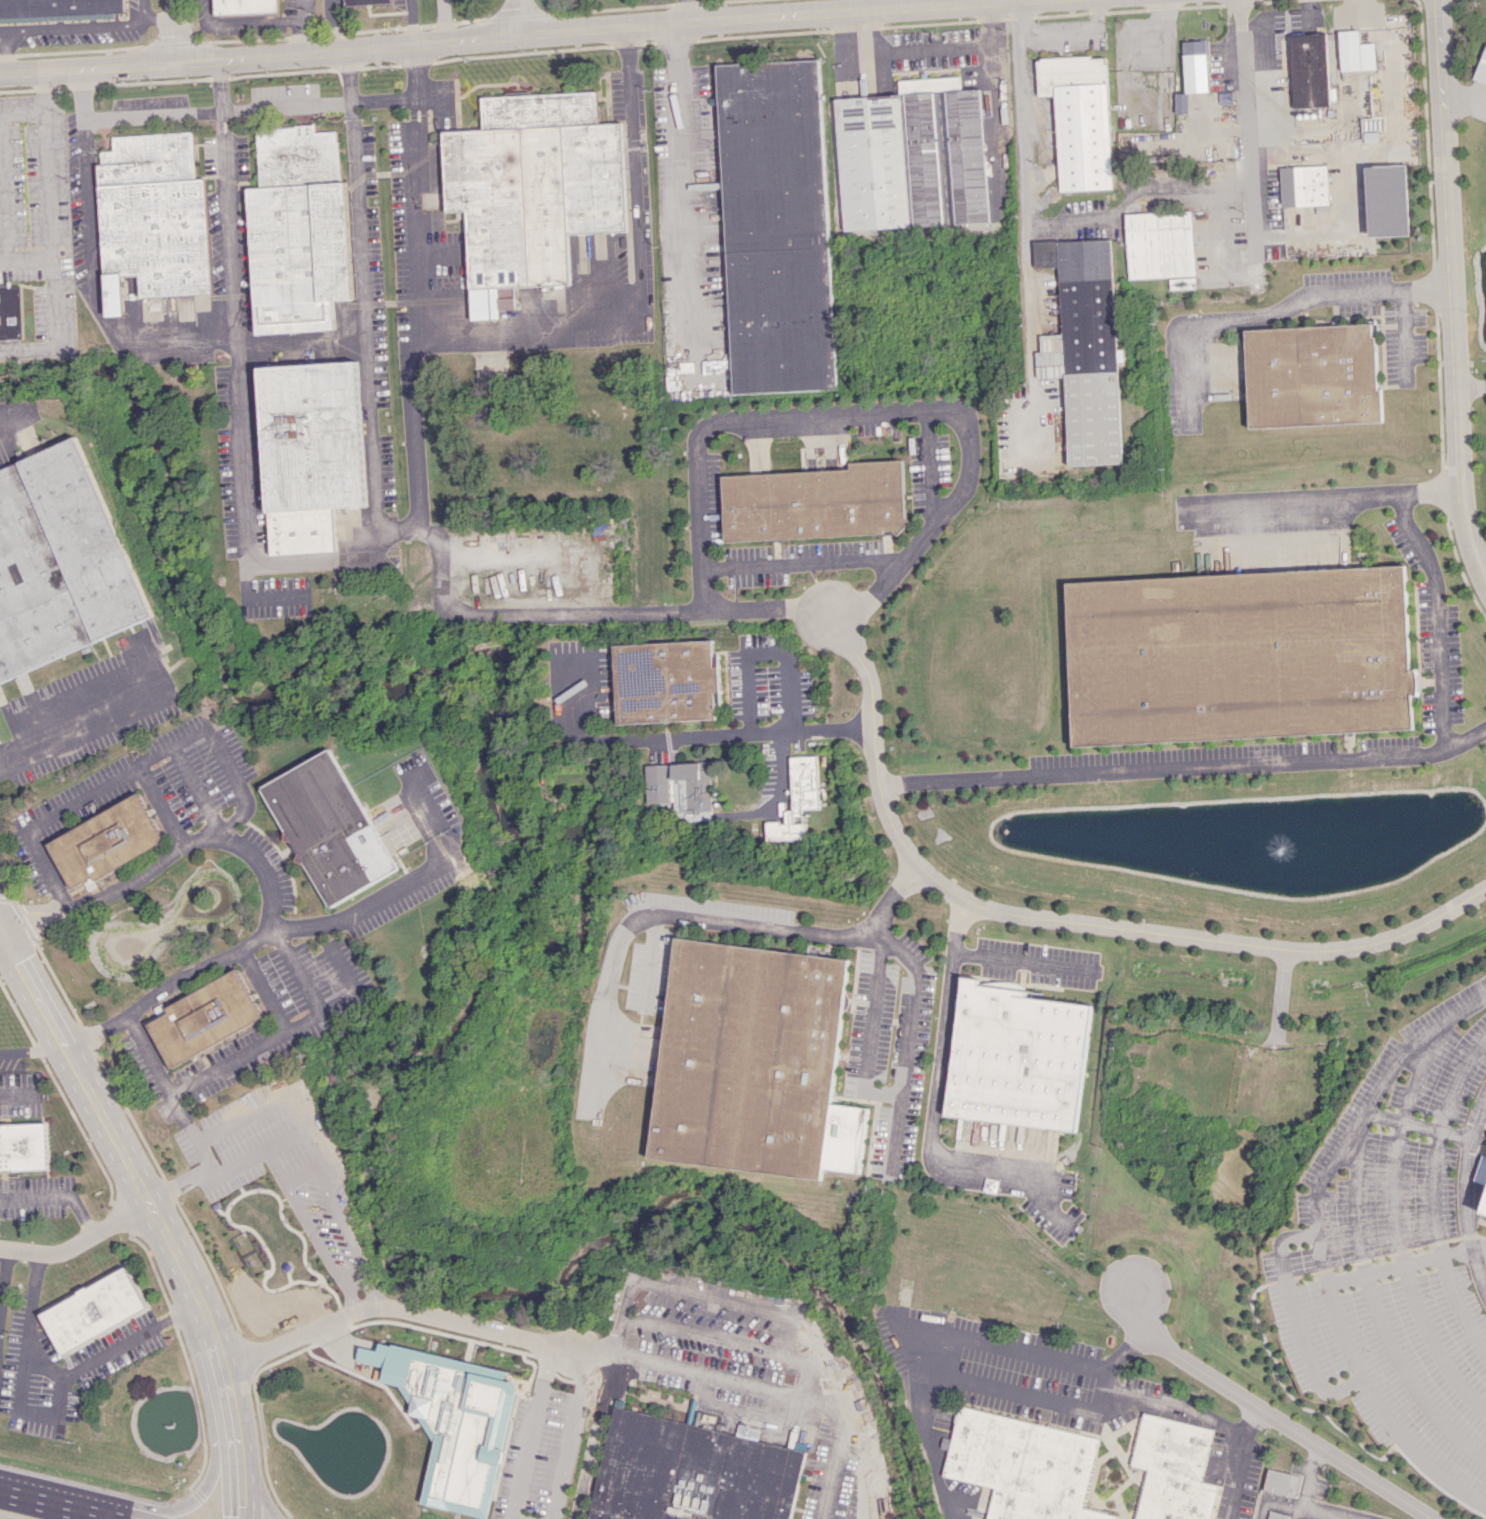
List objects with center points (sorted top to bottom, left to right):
building: (365, 2)
road: (929, 3)
building: (243, 6)
building: (58, 9)
road: (688, 11)
road: (517, 17)
road: (246, 19)
road: (159, 20)
road: (442, 20)
road: (410, 22)
road: (83, 25)
road: (328, 25)
road: (302, 26)
road: (172, 31)
road: (507, 35)
road: (862, 51)
building: (1355, 52)
road: (8, 53)
road: (954, 53)
building: (1195, 66)
building: (1482, 69)
building: (1309, 70)
road: (346, 83)
road: (627, 83)
road: (1463, 97)
road: (414, 98)
road: (345, 101)
building: (1181, 103)
road: (83, 108)
road: (21, 112)
road: (179, 113)
road: (221, 113)
building: (1079, 119)
road: (418, 124)
road: (1245, 126)
road: (225, 135)
building: (911, 156)
road: (4, 185)
road: (680, 186)
building: (1305, 187)
road: (48, 189)
building: (530, 190)
road: (1131, 193)
building: (1387, 200)
building: (152, 218)
road: (1024, 221)
building: (775, 226)
building: (298, 230)
road: (230, 239)
building: (1160, 244)
building: (1182, 282)
road: (1451, 293)
road: (96, 307)
road: (1272, 309)
building: (11, 313)
road: (625, 323)
road: (55, 327)
road: (425, 329)
building: (1084, 347)
building: (1312, 375)
road: (868, 411)
road: (16, 417)
building: (310, 452)
road: (242, 456)
road: (372, 499)
road: (1321, 499)
building: (815, 502)
building: (60, 562)
road: (801, 563)
road: (746, 607)
road: (1437, 617)
road: (764, 649)
building: (1240, 655)
building: (665, 680)
road: (83, 726)
road: (689, 736)
road: (128, 766)
road: (1186, 768)
road: (197, 788)
building: (681, 789)
building: (796, 800)
road: (160, 804)
building: (330, 827)
building: (105, 841)
road: (169, 857)
road: (362, 906)
road: (670, 912)
road: (1058, 921)
road: (250, 941)
road: (651, 958)
road: (1019, 960)
road: (258, 990)
road: (914, 1000)
building: (204, 1017)
road: (867, 1030)
road: (97, 1031)
road: (33, 1050)
building: (1016, 1056)
building: (755, 1062)
road: (13, 1092)
road: (279, 1099)
road: (933, 1104)
road: (1360, 1117)
road: (1418, 1123)
road: (288, 1139)
building: (22, 1146)
road: (130, 1166)
building: (1481, 1171)
road: (306, 1173)
road: (1466, 1192)
road: (56, 1196)
road: (1434, 1197)
road: (297, 1203)
building: (1485, 1209)
road: (1396, 1233)
road: (348, 1234)
road: (79, 1243)
road: (2, 1265)
road: (357, 1281)
parking lot: (1409, 1291)
road: (293, 1297)
road: (395, 1305)
building: (92, 1310)
road: (1378, 1313)
road: (785, 1317)
road: (1296, 1319)
road: (956, 1332)
road: (726, 1341)
road: (1348, 1345)
road: (593, 1353)
road: (1021, 1394)
road: (784, 1400)
road: (1166, 1407)
road: (1272, 1415)
road: (51, 1417)
building: (454, 1423)
road: (527, 1434)
road: (571, 1435)
road: (593, 1438)
road: (1239, 1461)
road: (235, 1464)
road: (251, 1465)
building: (1024, 1466)
building: (1172, 1469)
building: (693, 1472)
road: (1308, 1475)
building: (1280, 1482)
road: (194, 1498)
road: (1273, 1501)
road: (51, 1504)
road: (1326, 1513)
building: (1277, 1515)
road: (107, 1518)

